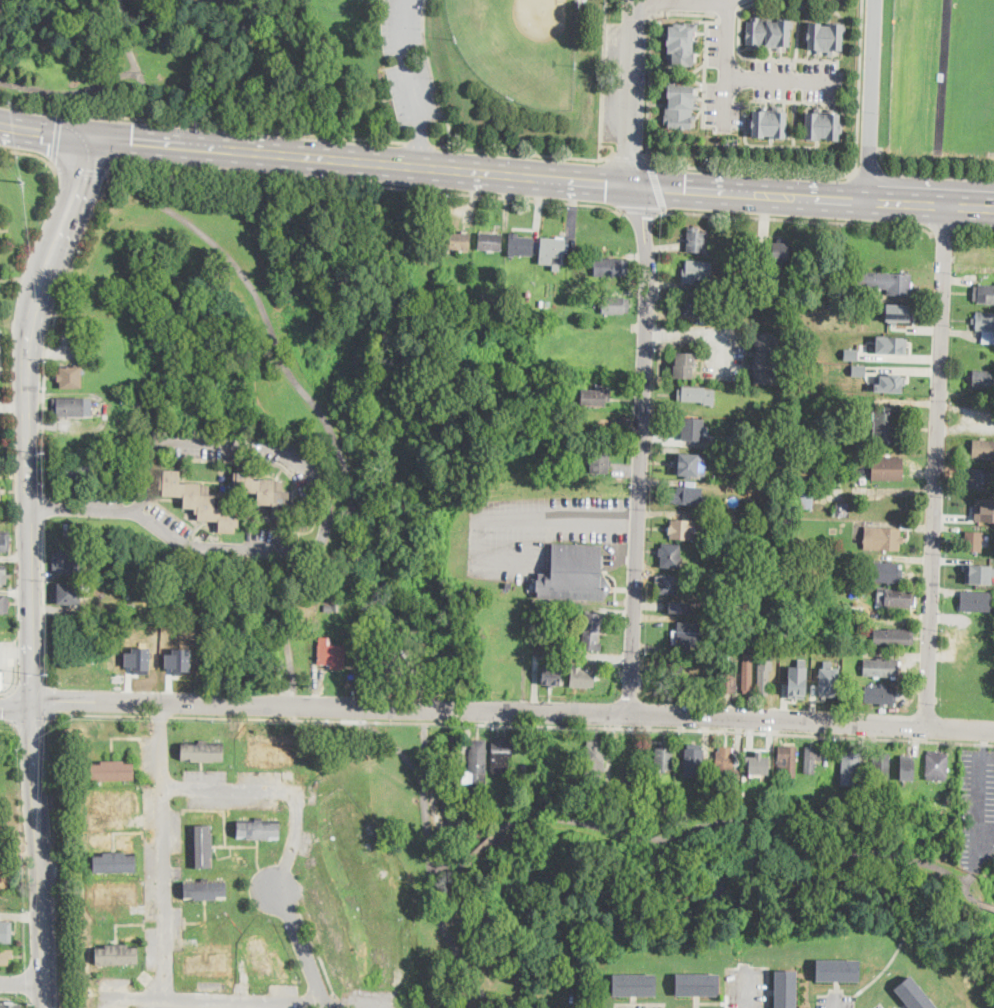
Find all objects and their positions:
road: (714, 0)
power substation: (2, 3)
road: (120, 4)
road: (663, 5)
road: (682, 11)
road: (729, 13)
building: (768, 31)
building: (825, 36)
building: (681, 42)
park: (521, 46)
road: (756, 58)
road: (134, 61)
parking lot: (407, 62)
road: (407, 63)
road: (727, 64)
park: (325, 65)
road: (602, 71)
road: (432, 73)
road: (943, 76)
track: (943, 76)
park: (972, 76)
road: (783, 78)
road: (70, 91)
road: (633, 93)
road: (871, 100)
building: (680, 105)
road: (202, 122)
building: (768, 122)
building: (823, 124)
road: (45, 131)
road: (56, 136)
traffic signals: (92, 137)
road: (419, 141)
road: (419, 145)
road: (541, 152)
road: (32, 153)
road: (628, 160)
road: (82, 170)
road: (870, 170)
road: (928, 171)
road: (837, 174)
road: (542, 177)
power tower: (23, 182)
road: (366, 183)
traffic signals: (607, 183)
road: (657, 185)
traffic signals: (685, 189)
road: (641, 208)
road: (798, 218)
road: (944, 229)
road: (977, 229)
building: (696, 240)
building: (459, 241)
building: (490, 242)
building: (520, 245)
building: (553, 250)
building: (781, 252)
building: (610, 267)
building: (697, 271)
building: (886, 283)
building: (984, 294)
building: (489, 296)
building: (548, 304)
building: (615, 305)
building: (700, 305)
building: (899, 314)
building: (986, 326)
road: (54, 331)
road: (705, 332)
building: (891, 344)
building: (850, 353)
building: (764, 357)
building: (684, 364)
building: (70, 377)
building: (984, 379)
building: (890, 382)
building: (697, 394)
building: (596, 396)
building: (144, 402)
building: (72, 407)
road: (26, 414)
road: (325, 420)
building: (885, 425)
building: (622, 426)
building: (693, 429)
building: (731, 441)
road: (641, 448)
building: (983, 449)
power tower: (41, 453)
building: (738, 455)
building: (600, 463)
building: (690, 464)
road: (937, 465)
building: (888, 468)
building: (71, 475)
building: (834, 476)
building: (979, 477)
building: (683, 494)
building: (0, 496)
building: (273, 497)
building: (805, 498)
building: (200, 502)
building: (759, 504)
building: (984, 506)
road: (47, 507)
building: (845, 508)
road: (488, 516)
building: (733, 519)
building: (907, 526)
building: (681, 528)
building: (883, 539)
building: (5, 541)
building: (974, 541)
building: (801, 543)
road: (281, 548)
building: (733, 553)
building: (671, 555)
building: (67, 561)
building: (884, 572)
building: (978, 572)
building: (574, 573)
building: (5, 575)
building: (509, 584)
building: (669, 585)
building: (818, 589)
building: (70, 593)
building: (896, 597)
road: (42, 600)
building: (977, 601)
building: (4, 604)
building: (337, 606)
building: (679, 606)
building: (328, 608)
building: (857, 610)
building: (556, 629)
building: (593, 631)
building: (565, 632)
building: (894, 636)
building: (686, 637)
building: (748, 644)
building: (332, 655)
building: (140, 656)
building: (181, 657)
building: (389, 661)
building: (882, 668)
road: (16, 670)
building: (669, 672)
building: (747, 673)
power tower: (46, 676)
building: (552, 676)
building: (583, 677)
building: (764, 677)
building: (728, 680)
building: (0, 681)
building: (797, 681)
building: (829, 681)
road: (29, 684)
building: (880, 695)
road: (49, 699)
traffic signals: (32, 702)
road: (294, 704)
road: (10, 705)
road: (16, 705)
road: (331, 705)
road: (315, 718)
road: (30, 720)
road: (812, 720)
road: (666, 727)
building: (0, 735)
road: (48, 739)
power tower: (17, 750)
road: (424, 750)
building: (202, 751)
building: (273, 751)
building: (533, 751)
building: (562, 754)
road: (989, 755)
building: (502, 756)
building: (596, 758)
building: (664, 758)
building: (812, 758)
building: (632, 759)
building: (846, 759)
building: (694, 761)
building: (788, 761)
building: (727, 763)
building: (759, 766)
building: (938, 766)
building: (477, 767)
building: (906, 767)
building: (883, 768)
building: (524, 769)
building: (113, 771)
building: (551, 774)
road: (279, 786)
road: (424, 786)
building: (553, 786)
building: (115, 801)
parking lot: (977, 809)
road: (982, 809)
road: (748, 820)
building: (258, 829)
road: (987, 836)
road: (485, 843)
building: (202, 847)
road: (41, 854)
building: (115, 862)
building: (5, 879)
building: (205, 890)
building: (115, 895)
road: (287, 895)
road: (987, 904)
building: (4, 930)
road: (160, 931)
road: (450, 937)
road: (303, 947)
road: (316, 949)
building: (117, 954)
building: (5, 956)
building: (259, 957)
building: (206, 960)
building: (838, 971)
road: (22, 982)
building: (697, 985)
building: (634, 986)
road: (748, 988)
building: (786, 989)
road: (131, 995)
building: (913, 995)
road: (836, 1001)
road: (336, 1002)
power tower: (28, 1003)
building: (10, 1005)
road: (360, 1005)

